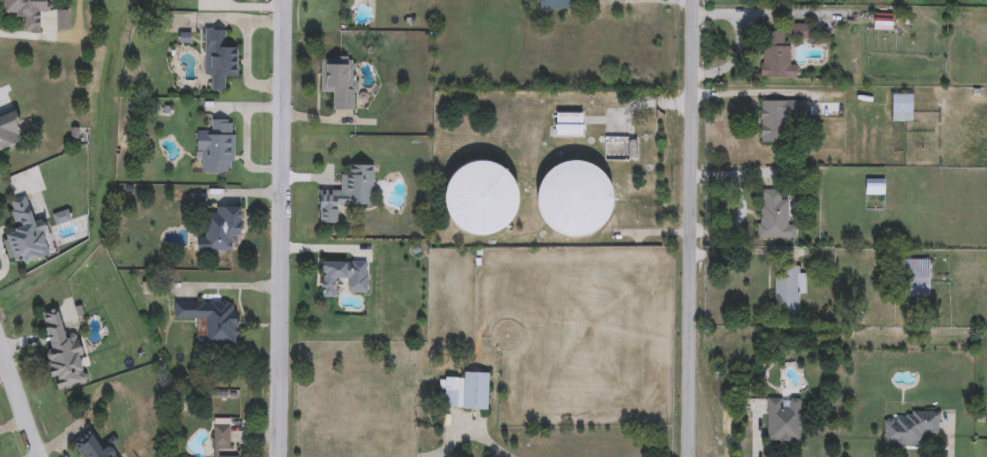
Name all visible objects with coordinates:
road: (660, 1)
building: (554, 5)
building: (27, 11)
building: (61, 20)
building: (882, 22)
building: (798, 31)
building: (775, 56)
building: (219, 59)
building: (340, 82)
road: (755, 93)
building: (901, 107)
building: (779, 117)
building: (568, 124)
building: (9, 130)
building: (216, 146)
building: (875, 186)
building: (347, 192)
building: (481, 201)
storage tank: (481, 201)
building: (575, 201)
storage tank: (575, 201)
building: (773, 216)
building: (222, 228)
road: (281, 228)
road: (691, 228)
building: (26, 235)
road: (744, 253)
building: (344, 276)
building: (913, 278)
building: (788, 290)
building: (211, 320)
building: (62, 350)
building: (467, 391)
road: (18, 404)
building: (782, 420)
building: (910, 428)
building: (222, 432)
road: (471, 437)
building: (93, 447)
building: (224, 456)

